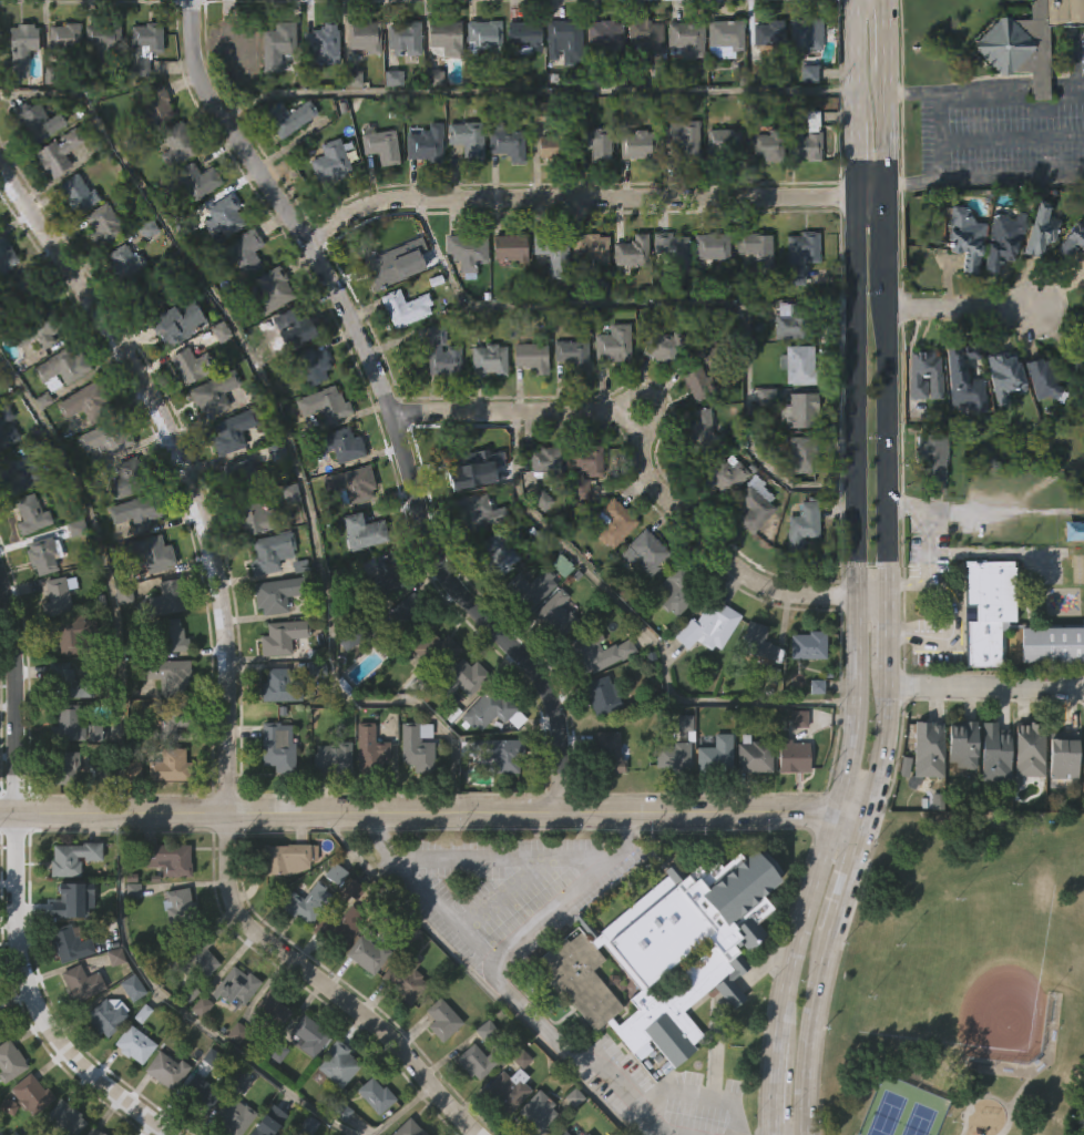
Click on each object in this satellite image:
building: (771, 34)
road: (887, 34)
building: (609, 37)
building: (685, 37)
building: (485, 38)
building: (727, 38)
building: (805, 38)
building: (65, 39)
building: (366, 39)
building: (408, 39)
building: (526, 39)
building: (105, 40)
building: (447, 40)
building: (324, 41)
building: (650, 41)
building: (567, 43)
building: (1033, 43)
building: (239, 44)
building: (146, 48)
building: (279, 48)
building: (23, 50)
road: (857, 60)
road: (1068, 83)
road: (1044, 84)
road: (986, 88)
road: (912, 91)
road: (538, 92)
building: (155, 110)
building: (289, 119)
building: (39, 124)
road: (887, 130)
building: (802, 133)
building: (684, 135)
road: (938, 136)
building: (470, 141)
road: (1011, 141)
building: (597, 143)
building: (725, 143)
building: (507, 144)
building: (769, 144)
building: (178, 145)
building: (640, 145)
building: (382, 146)
building: (556, 146)
building: (427, 147)
building: (60, 155)
building: (331, 163)
road: (857, 163)
road: (1012, 178)
building: (200, 181)
road: (912, 183)
building: (79, 195)
road: (872, 196)
road: (579, 204)
building: (226, 217)
building: (104, 226)
building: (1039, 232)
road: (886, 234)
building: (967, 236)
building: (1003, 242)
building: (1072, 242)
building: (512, 248)
building: (593, 248)
building: (715, 248)
building: (470, 252)
building: (635, 252)
building: (758, 252)
building: (555, 253)
building: (675, 253)
building: (245, 254)
building: (7, 256)
building: (804, 256)
building: (126, 262)
building: (379, 264)
building: (275, 292)
building: (25, 295)
building: (1082, 295)
road: (677, 306)
building: (407, 308)
road: (962, 317)
building: (798, 324)
building: (178, 326)
building: (39, 330)
building: (295, 330)
building: (616, 345)
building: (665, 346)
building: (710, 349)
building: (443, 355)
building: (575, 357)
building: (533, 359)
building: (491, 360)
building: (313, 366)
building: (61, 367)
building: (193, 367)
building: (801, 367)
building: (1075, 371)
building: (928, 376)
building: (1005, 377)
building: (969, 380)
building: (1041, 381)
building: (705, 382)
building: (218, 393)
building: (773, 397)
building: (85, 403)
road: (388, 405)
building: (328, 406)
building: (802, 411)
road: (285, 430)
road: (886, 431)
building: (7, 432)
building: (234, 432)
building: (705, 436)
building: (108, 439)
building: (340, 446)
building: (806, 456)
building: (937, 456)
building: (549, 462)
building: (471, 464)
building: (586, 470)
road: (646, 472)
building: (728, 476)
building: (18, 478)
building: (246, 478)
building: (131, 480)
building: (350, 488)
building: (758, 505)
road: (856, 511)
building: (141, 512)
building: (477, 512)
building: (32, 517)
building: (257, 519)
building: (617, 525)
building: (806, 528)
building: (366, 533)
building: (1075, 534)
building: (273, 552)
building: (647, 552)
building: (501, 554)
building: (43, 555)
building: (147, 556)
road: (927, 565)
road: (108, 569)
building: (385, 577)
road: (909, 580)
building: (532, 587)
building: (679, 589)
building: (274, 594)
building: (58, 595)
building: (166, 597)
building: (990, 607)
building: (406, 611)
building: (556, 614)
road: (889, 620)
road: (642, 625)
building: (710, 625)
building: (357, 631)
building: (75, 633)
building: (164, 634)
building: (283, 636)
road: (920, 637)
building: (759, 643)
building: (810, 645)
building: (1055, 645)
building: (432, 653)
building: (585, 653)
building: (167, 674)
road: (227, 674)
building: (462, 678)
building: (65, 681)
building: (278, 682)
road: (985, 687)
building: (604, 695)
building: (492, 712)
building: (166, 715)
building: (69, 723)
building: (460, 725)
building: (812, 734)
road: (883, 738)
building: (597, 743)
building: (960, 744)
building: (417, 746)
building: (277, 747)
building: (927, 747)
building: (370, 749)
building: (993, 749)
building: (1027, 749)
building: (495, 753)
building: (609, 753)
building: (717, 755)
building: (755, 755)
building: (795, 755)
building: (1061, 755)
building: (334, 756)
building: (675, 756)
building: (170, 766)
building: (60, 767)
building: (1082, 774)
building: (958, 790)
building: (275, 794)
building: (413, 794)
building: (366, 796)
building: (924, 796)
building: (1024, 797)
building: (991, 799)
building: (604, 800)
building: (500, 801)
building: (712, 802)
building: (1059, 802)
building: (669, 804)
building: (790, 804)
building: (328, 805)
building: (750, 805)
road: (417, 810)
building: (164, 811)
building: (62, 812)
building: (130, 817)
road: (849, 818)
building: (1081, 821)
road: (504, 856)
building: (73, 857)
building: (167, 859)
building: (289, 859)
road: (842, 886)
road: (16, 888)
road: (569, 890)
road: (509, 891)
building: (68, 901)
building: (307, 902)
building: (178, 904)
building: (339, 926)
road: (798, 926)
building: (129, 937)
building: (70, 943)
building: (174, 949)
building: (298, 952)
building: (368, 952)
building: (668, 954)
building: (196, 955)
park: (967, 974)
building: (405, 979)
park: (964, 981)
building: (82, 982)
road: (500, 984)
building: (234, 986)
building: (132, 988)
building: (65, 991)
building: (362, 1001)
building: (198, 1006)
building: (273, 1009)
road: (722, 1013)
building: (108, 1016)
building: (443, 1020)
building: (400, 1029)
building: (79, 1030)
building: (577, 1030)
building: (233, 1032)
road: (217, 1033)
building: (309, 1035)
road: (808, 1044)
building: (134, 1045)
building: (197, 1053)
building: (269, 1056)
building: (9, 1060)
building: (477, 1062)
building: (104, 1063)
building: (338, 1064)
building: (438, 1066)
building: (166, 1071)
building: (482, 1077)
building: (233, 1080)
building: (307, 1083)
building: (664, 1086)
road: (771, 1086)
building: (509, 1090)
building: (131, 1091)
building: (31, 1094)
building: (201, 1094)
building: (376, 1095)
road: (698, 1096)
building: (273, 1098)
building: (8, 1107)
building: (471, 1108)
building: (335, 1111)
building: (539, 1113)
park: (887, 1114)
building: (163, 1116)
building: (235, 1117)
building: (65, 1118)
park: (920, 1119)
building: (266, 1121)
building: (505, 1127)
building: (408, 1128)
building: (23, 1129)
building: (195, 1129)
building: (368, 1131)
building: (94, 1132)
building: (563, 1133)
building: (43, 1134)
building: (571, 1134)
building: (586, 1134)

